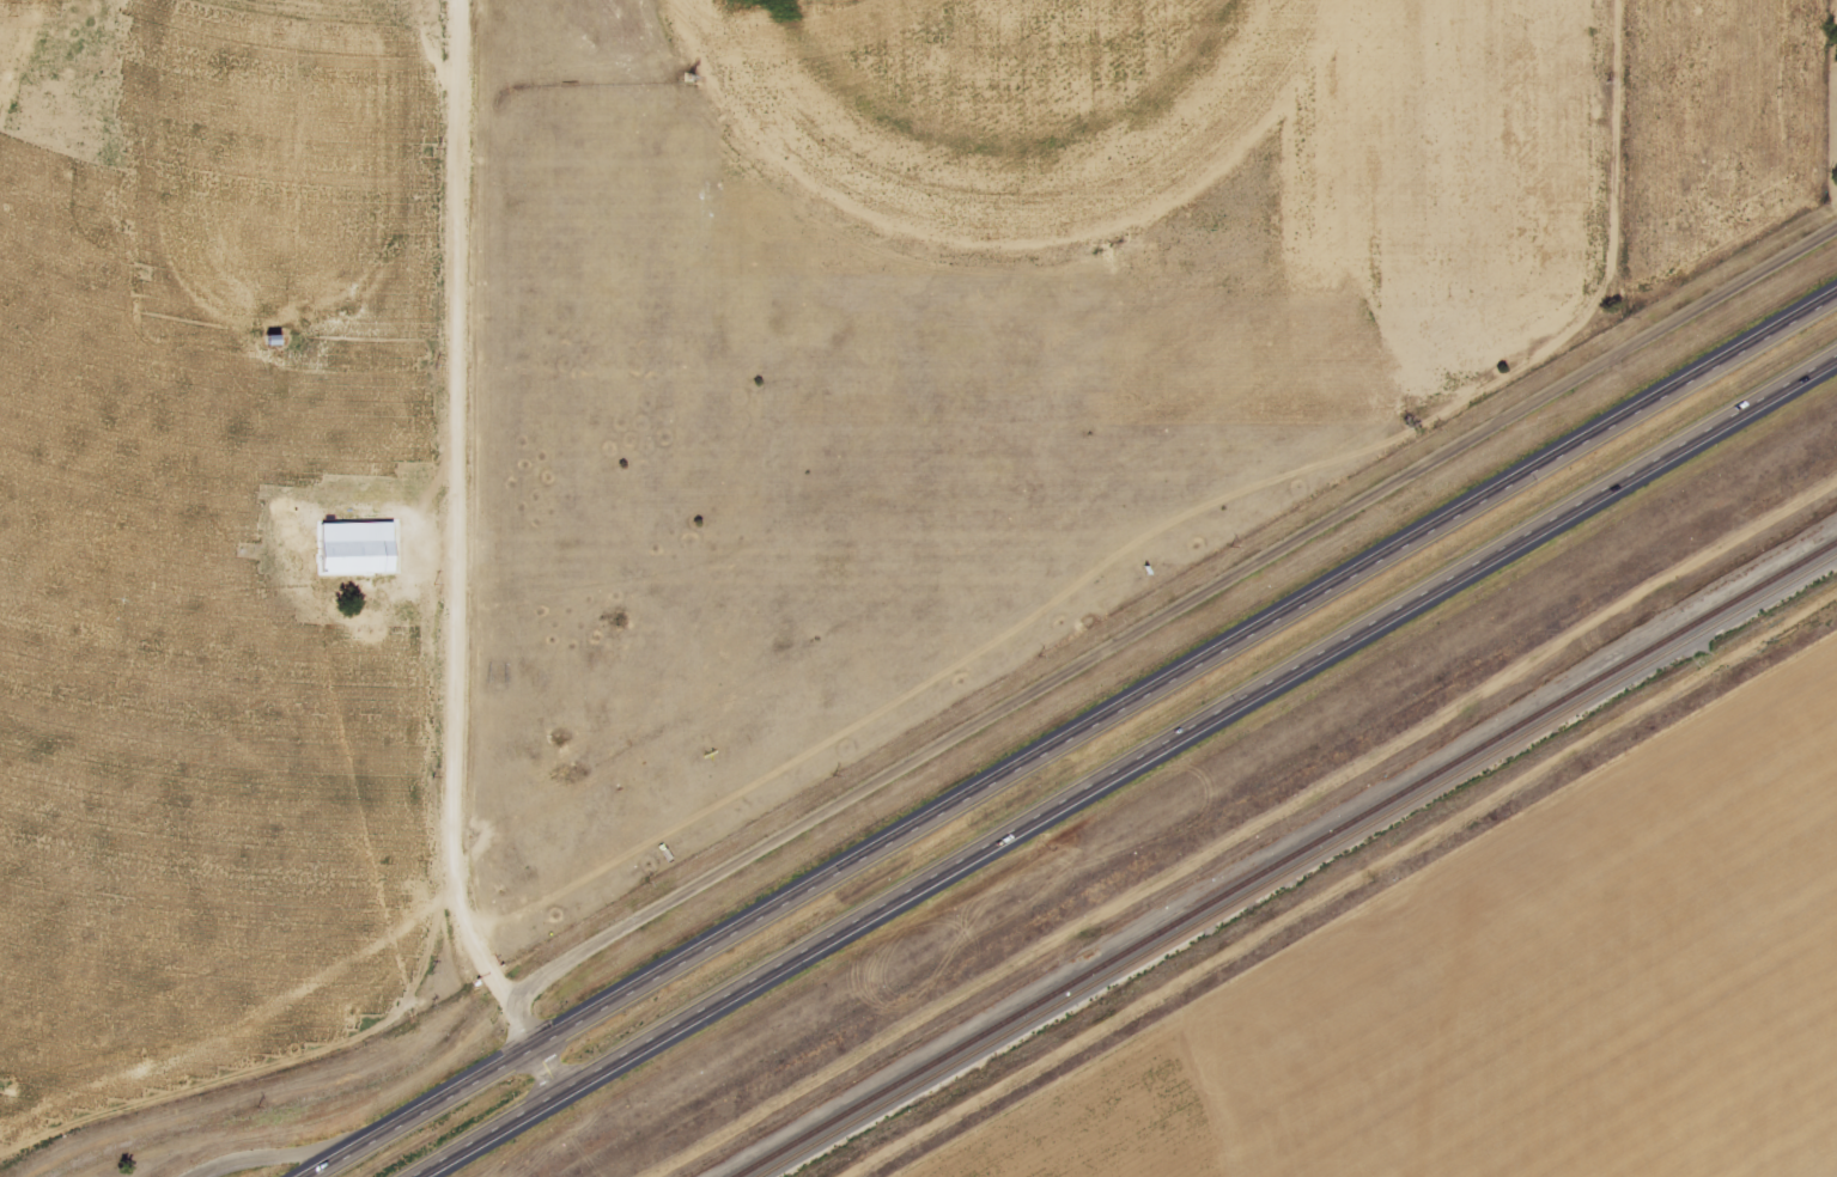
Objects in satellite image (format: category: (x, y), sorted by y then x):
road: (455, 531)
building: (360, 549)
road: (1166, 612)
road: (1071, 733)
road: (1126, 767)
railway: (1286, 860)
railway: (1302, 867)
road: (270, 1157)

